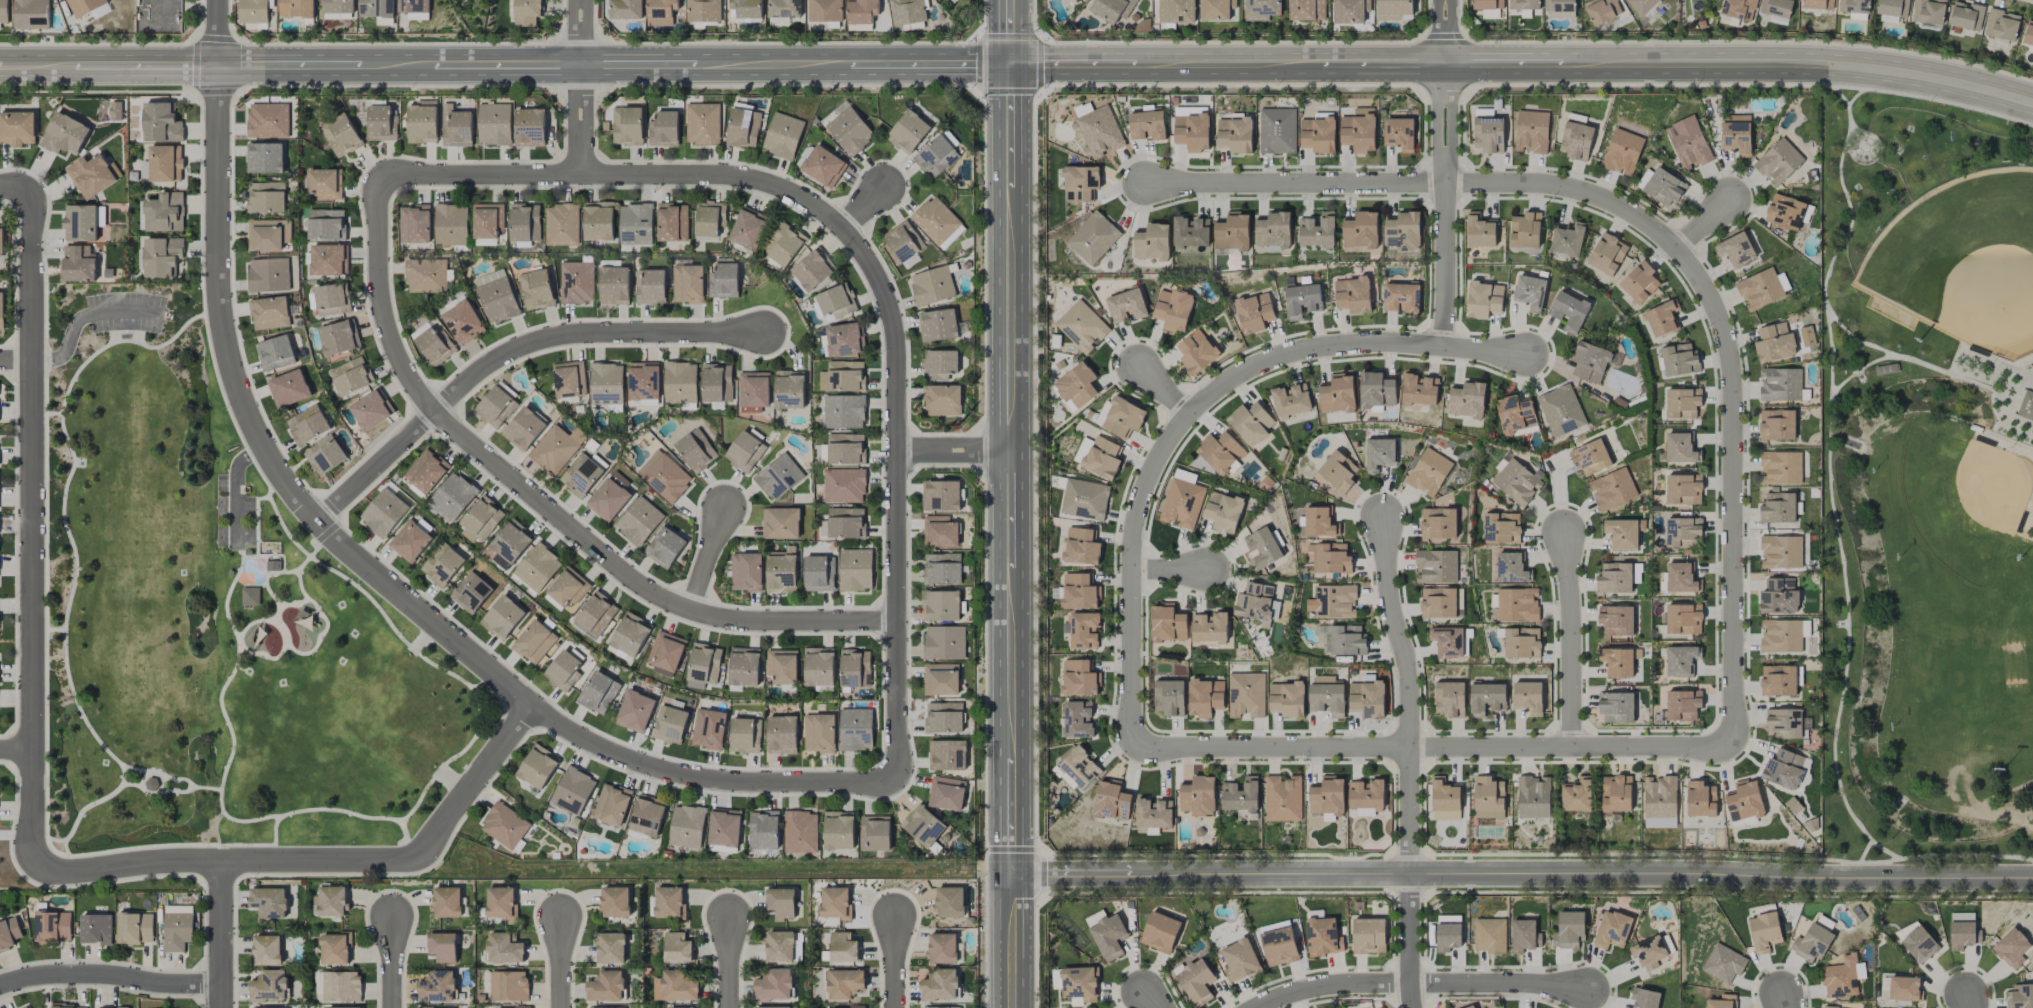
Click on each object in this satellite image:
building: (943, 1)
building: (1487, 4)
building: (1523, 4)
building: (1818, 4)
building: (1643, 5)
building: (84, 6)
building: (339, 6)
building: (413, 6)
building: (1854, 6)
building: (1561, 7)
building: (296, 8)
building: (376, 8)
building: (784, 8)
building: (1776, 8)
building: (625, 9)
building: (745, 9)
building: (1112, 9)
building: (1261, 9)
building: (1393, 9)
building: (1738, 9)
building: (825, 10)
building: (1216, 10)
building: (1307, 10)
building: (1602, 10)
building: (1892, 10)
building: (4, 11)
building: (253, 11)
building: (703, 11)
building: (862, 11)
building: (1176, 11)
building: (1350, 11)
building: (1928, 11)
building: (527, 12)
building: (660, 12)
building: (907, 12)
building: (31, 14)
building: (1966, 16)
building: (2001, 25)
road: (1444, 32)
road: (1010, 33)
building: (2028, 34)
road: (1018, 65)
road: (583, 88)
building: (268, 120)
building: (422, 122)
building: (161, 123)
building: (381, 123)
building: (494, 124)
building: (702, 124)
building: (1147, 125)
building: (627, 126)
road: (1009, 126)
building: (17, 128)
building: (529, 128)
building: (743, 128)
building: (457, 129)
building: (663, 129)
building: (849, 129)
building: (1192, 129)
building: (1359, 130)
building: (1277, 131)
building: (908, 132)
building: (1100, 132)
building: (1531, 132)
building: (64, 134)
building: (1399, 134)
building: (1489, 134)
building: (341, 135)
building: (782, 135)
building: (1235, 135)
building: (1318, 135)
building: (1736, 137)
building: (1576, 141)
building: (1688, 143)
building: (1622, 152)
building: (936, 156)
building: (264, 158)
building: (1778, 162)
building: (165, 163)
building: (823, 166)
building: (144, 170)
building: (92, 175)
building: (325, 183)
building: (1080, 183)
building: (1664, 187)
road: (16, 189)
building: (266, 197)
road: (1444, 206)
road: (867, 211)
building: (1785, 211)
building: (164, 213)
building: (709, 218)
building: (488, 220)
building: (598, 221)
building: (80, 222)
building: (525, 222)
building: (672, 222)
building: (937, 222)
building: (326, 224)
building: (415, 224)
building: (451, 224)
building: (562, 224)
building: (635, 224)
road: (1702, 226)
building: (748, 229)
building: (1273, 230)
building: (1360, 230)
building: (1525, 230)
building: (1191, 231)
building: (1317, 231)
building: (1403, 231)
building: (1480, 231)
building: (1232, 232)
building: (268, 234)
road: (1661, 237)
building: (1093, 238)
building: (1567, 240)
building: (1, 241)
building: (903, 241)
building: (1152, 242)
building: (783, 245)
building: (1735, 250)
building: (1607, 254)
building: (161, 256)
park: (1961, 259)
building: (328, 260)
road: (870, 262)
building: (78, 264)
building: (812, 269)
building: (268, 275)
building: (426, 276)
building: (724, 279)
building: (576, 282)
building: (1639, 283)
building: (688, 284)
building: (614, 285)
building: (650, 286)
building: (932, 286)
building: (1760, 289)
building: (536, 290)
building: (1530, 292)
building: (1352, 295)
building: (496, 296)
building: (332, 298)
building: (1401, 298)
building: (1483, 299)
building: (835, 301)
building: (1302, 301)
building: (1126, 306)
building: (1173, 309)
building: (1, 312)
road: (124, 312)
building: (1568, 312)
building: (269, 313)
building: (1254, 313)
parking lot: (127, 314)
building: (1662, 318)
road: (1009, 320)
building: (463, 322)
building: (937, 325)
building: (1081, 326)
building: (1807, 336)
building: (339, 337)
building: (844, 339)
building: (1774, 343)
building: (435, 346)
road: (67, 349)
building: (1196, 352)
building: (275, 353)
road: (508, 353)
building: (1679, 359)
road: (16, 362)
building: (1591, 362)
building: (939, 364)
building: (1888, 369)
building: (351, 376)
building: (842, 376)
building: (569, 379)
building: (643, 381)
building: (680, 382)
building: (606, 383)
building: (716, 383)
building: (1076, 384)
building: (1780, 384)
building: (289, 389)
building: (789, 389)
building: (1376, 390)
building: (1419, 390)
building: (753, 392)
road: (1162, 392)
building: (1337, 394)
building: (942, 400)
building: (1291, 400)
building: (1467, 400)
building: (1682, 403)
building: (497, 404)
building: (2026, 406)
road: (247, 410)
building: (370, 410)
building: (843, 411)
building: (1561, 411)
road: (1192, 412)
building: (1515, 414)
building: (1123, 418)
building: (1250, 423)
building: (308, 424)
building: (1777, 424)
building: (524, 428)
building: (556, 448)
building: (845, 449)
building: (1680, 449)
building: (696, 450)
building: (745, 451)
road: (953, 452)
building: (1220, 452)
building: (1379, 454)
building: (325, 455)
building: (1590, 457)
road: (246, 458)
building: (1102, 458)
building: (1780, 468)
building: (426, 471)
building: (1338, 471)
building: (1428, 472)
building: (583, 474)
building: (664, 476)
building: (779, 476)
building: (1517, 481)
park: (1926, 482)
building: (844, 486)
building: (1612, 489)
building: (1683, 489)
building: (452, 496)
building: (940, 496)
building: (610, 497)
building: (1084, 499)
building: (1182, 500)
park: (1966, 504)
road: (541, 505)
building: (1777, 508)
road: (1010, 510)
road: (237, 511)
building: (1223, 511)
building: (383, 513)
parking lot: (234, 514)
building: (481, 519)
building: (639, 521)
building: (1319, 522)
building: (781, 523)
building: (846, 523)
building: (1438, 523)
building: (1502, 528)
road: (32, 530)
building: (940, 532)
building: (1683, 533)
building: (1622, 534)
building: (409, 541)
building: (510, 544)
building: (664, 547)
building: (1081, 547)
building: (1262, 549)
building: (1780, 552)
building: (1330, 558)
road: (707, 559)
building: (442, 565)
building: (273, 566)
building: (1436, 566)
building: (537, 567)
building: (942, 568)
building: (1511, 568)
building: (855, 570)
building: (746, 572)
road: (1169, 572)
building: (781, 573)
building: (819, 573)
building: (1636, 573)
building: (1614, 577)
building: (1681, 578)
building: (568, 588)
building: (471, 592)
building: (1079, 592)
park: (2029, 593)
building: (250, 596)
building: (1778, 597)
building: (1333, 602)
building: (1257, 603)
building: (1438, 603)
building: (940, 605)
building: (1517, 605)
building: (596, 614)
building: (502, 617)
building: (1683, 619)
park: (215, 620)
building: (1616, 620)
building: (1168, 624)
building: (1209, 627)
building: (1083, 630)
building: (630, 634)
building: (1780, 636)
road: (1571, 641)
building: (534, 642)
building: (944, 642)
building: (1449, 642)
building: (1522, 643)
building: (665, 654)
building: (1681, 660)
building: (1618, 662)
building: (704, 663)
road: (1010, 663)
building: (744, 666)
building: (782, 666)
building: (818, 666)
building: (855, 668)
building: (563, 670)
building: (941, 679)
building: (1079, 679)
building: (1778, 680)
building: (598, 692)
building: (1246, 695)
road: (1408, 695)
building: (1205, 697)
building: (1367, 697)
building: (1528, 697)
building: (1169, 698)
building: (1286, 699)
building: (1449, 699)
building: (1487, 699)
building: (1683, 705)
building: (1616, 707)
building: (635, 711)
building: (943, 717)
building: (1077, 719)
building: (1783, 724)
building: (669, 725)
building: (708, 729)
building: (855, 729)
building: (819, 733)
building: (745, 735)
building: (781, 735)
road: (17, 749)
road: (1431, 749)
building: (947, 755)
building: (537, 767)
building: (1077, 769)
building: (1785, 769)
road: (706, 779)
building: (572, 791)
building: (946, 793)
building: (1240, 794)
building: (1616, 794)
building: (1577, 795)
building: (1198, 796)
building: (1326, 796)
building: (1366, 796)
building: (1533, 797)
building: (1488, 798)
building: (1282, 799)
building: (1700, 799)
building: (1445, 800)
building: (1112, 801)
building: (1744, 801)
building: (1660, 802)
building: (611, 804)
building: (647, 815)
building: (1153, 815)
road: (1010, 816)
building: (504, 825)
building: (686, 826)
building: (922, 826)
building: (724, 828)
building: (763, 830)
building: (838, 830)
building: (800, 832)
building: (875, 833)
road: (414, 857)
road: (128, 866)
road: (1521, 876)
building: (331, 901)
building: (268, 902)
building: (447, 902)
building: (500, 902)
building: (615, 902)
building: (669, 902)
building: (950, 902)
building: (781, 903)
building: (835, 903)
building: (1094, 917)
building: (52, 926)
building: (177, 927)
building: (135, 928)
building: (96, 929)
building: (1906, 929)
building: (1569, 930)
building: (1612, 930)
building: (1963, 931)
building: (1160, 932)
building: (1764, 932)
building: (9, 933)
road: (221, 934)
building: (1489, 935)
building: (1369, 936)
building: (1525, 936)
building: (1109, 937)
building: (1323, 937)
building: (1448, 937)
road: (1010, 941)
road: (1409, 942)
building: (1811, 944)
building: (1919, 945)
building: (779, 946)
building: (1279, 946)
building: (442, 947)
building: (843, 947)
building: (504, 948)
building: (610, 948)
building: (677, 948)
building: (942, 948)
building: (2011, 948)
building: (335, 949)
building: (267, 950)
building: (1649, 952)
building: (1239, 961)
road: (729, 963)
road: (895, 963)
building: (1724, 963)
road: (393, 964)
road: (560, 964)
road: (109, 977)
building: (1842, 979)
building: (1196, 981)
building: (844, 984)
road: (1420, 984)
building: (774, 985)
building: (940, 985)
building: (1079, 985)
building: (269, 986)
building: (341, 986)
building: (509, 986)
building: (437, 987)
building: (606, 987)
building: (675, 987)
building: (1904, 989)
building: (2020, 996)
building: (1645, 998)
road: (1148, 1001)
road: (1786, 1001)
road: (1969, 1001)
building: (1722, 1002)
building: (68, 1006)
building: (119, 1007)
building: (341, 1007)
building: (609, 1007)
building: (771, 1007)
building: (941, 1007)
building: (1472, 1007)
building: (1829, 1007)

